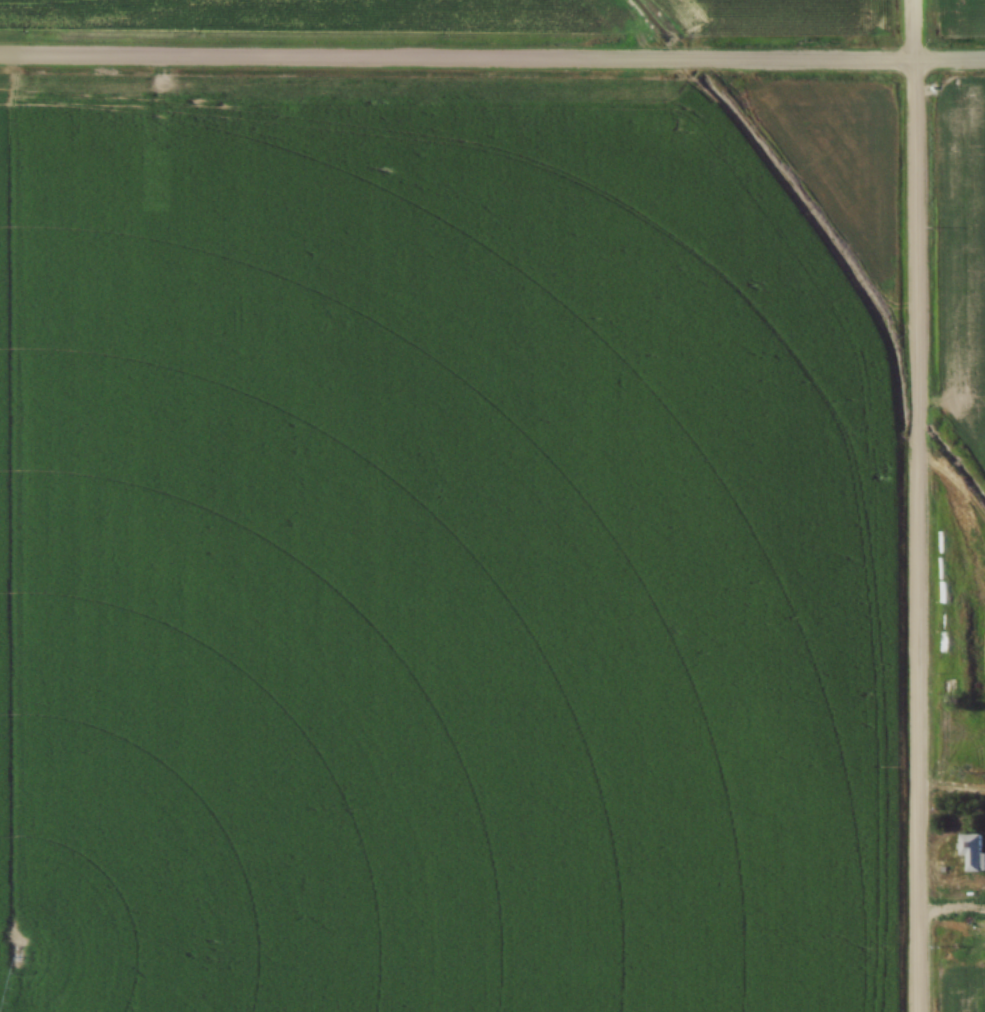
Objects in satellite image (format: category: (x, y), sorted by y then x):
crop: (330, 16)
crop: (783, 16)
crop: (958, 17)
road: (492, 60)
crop: (975, 267)
road: (958, 497)
road: (916, 505)
crop: (444, 545)
road: (950, 791)
building: (971, 851)
road: (950, 913)
crop: (967, 1009)

